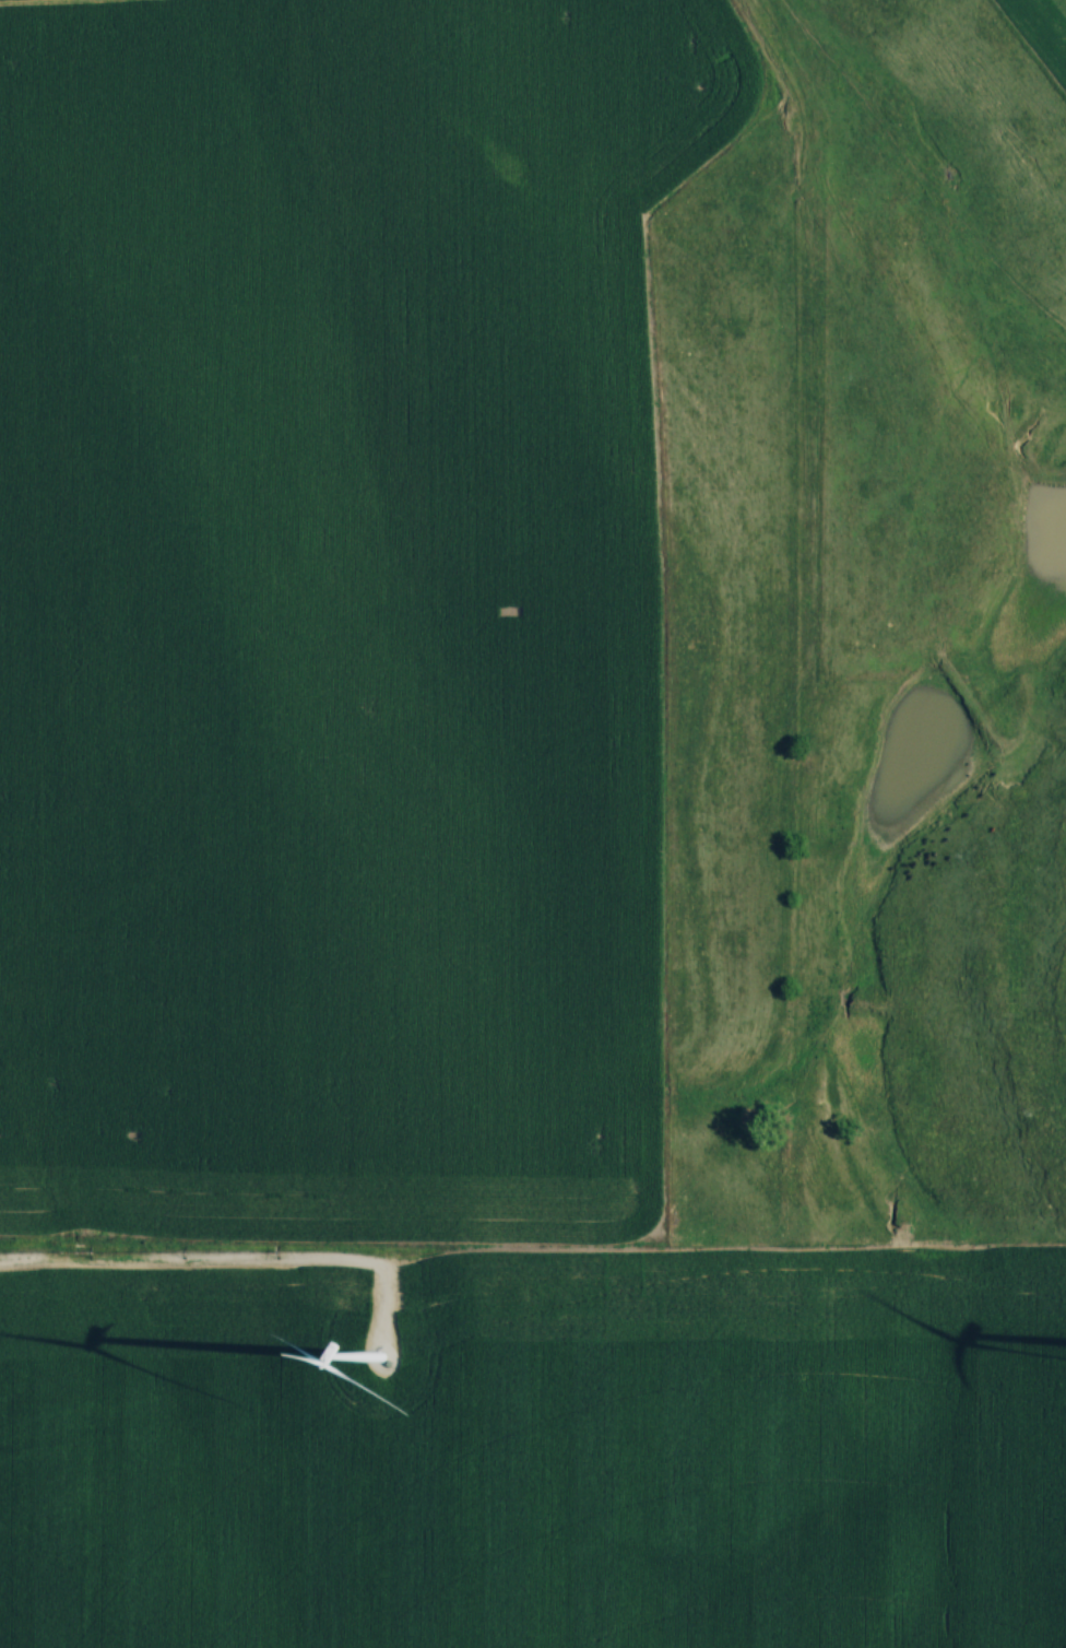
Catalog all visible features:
road: (225, 1259)
wind turbine: (380, 1355)

